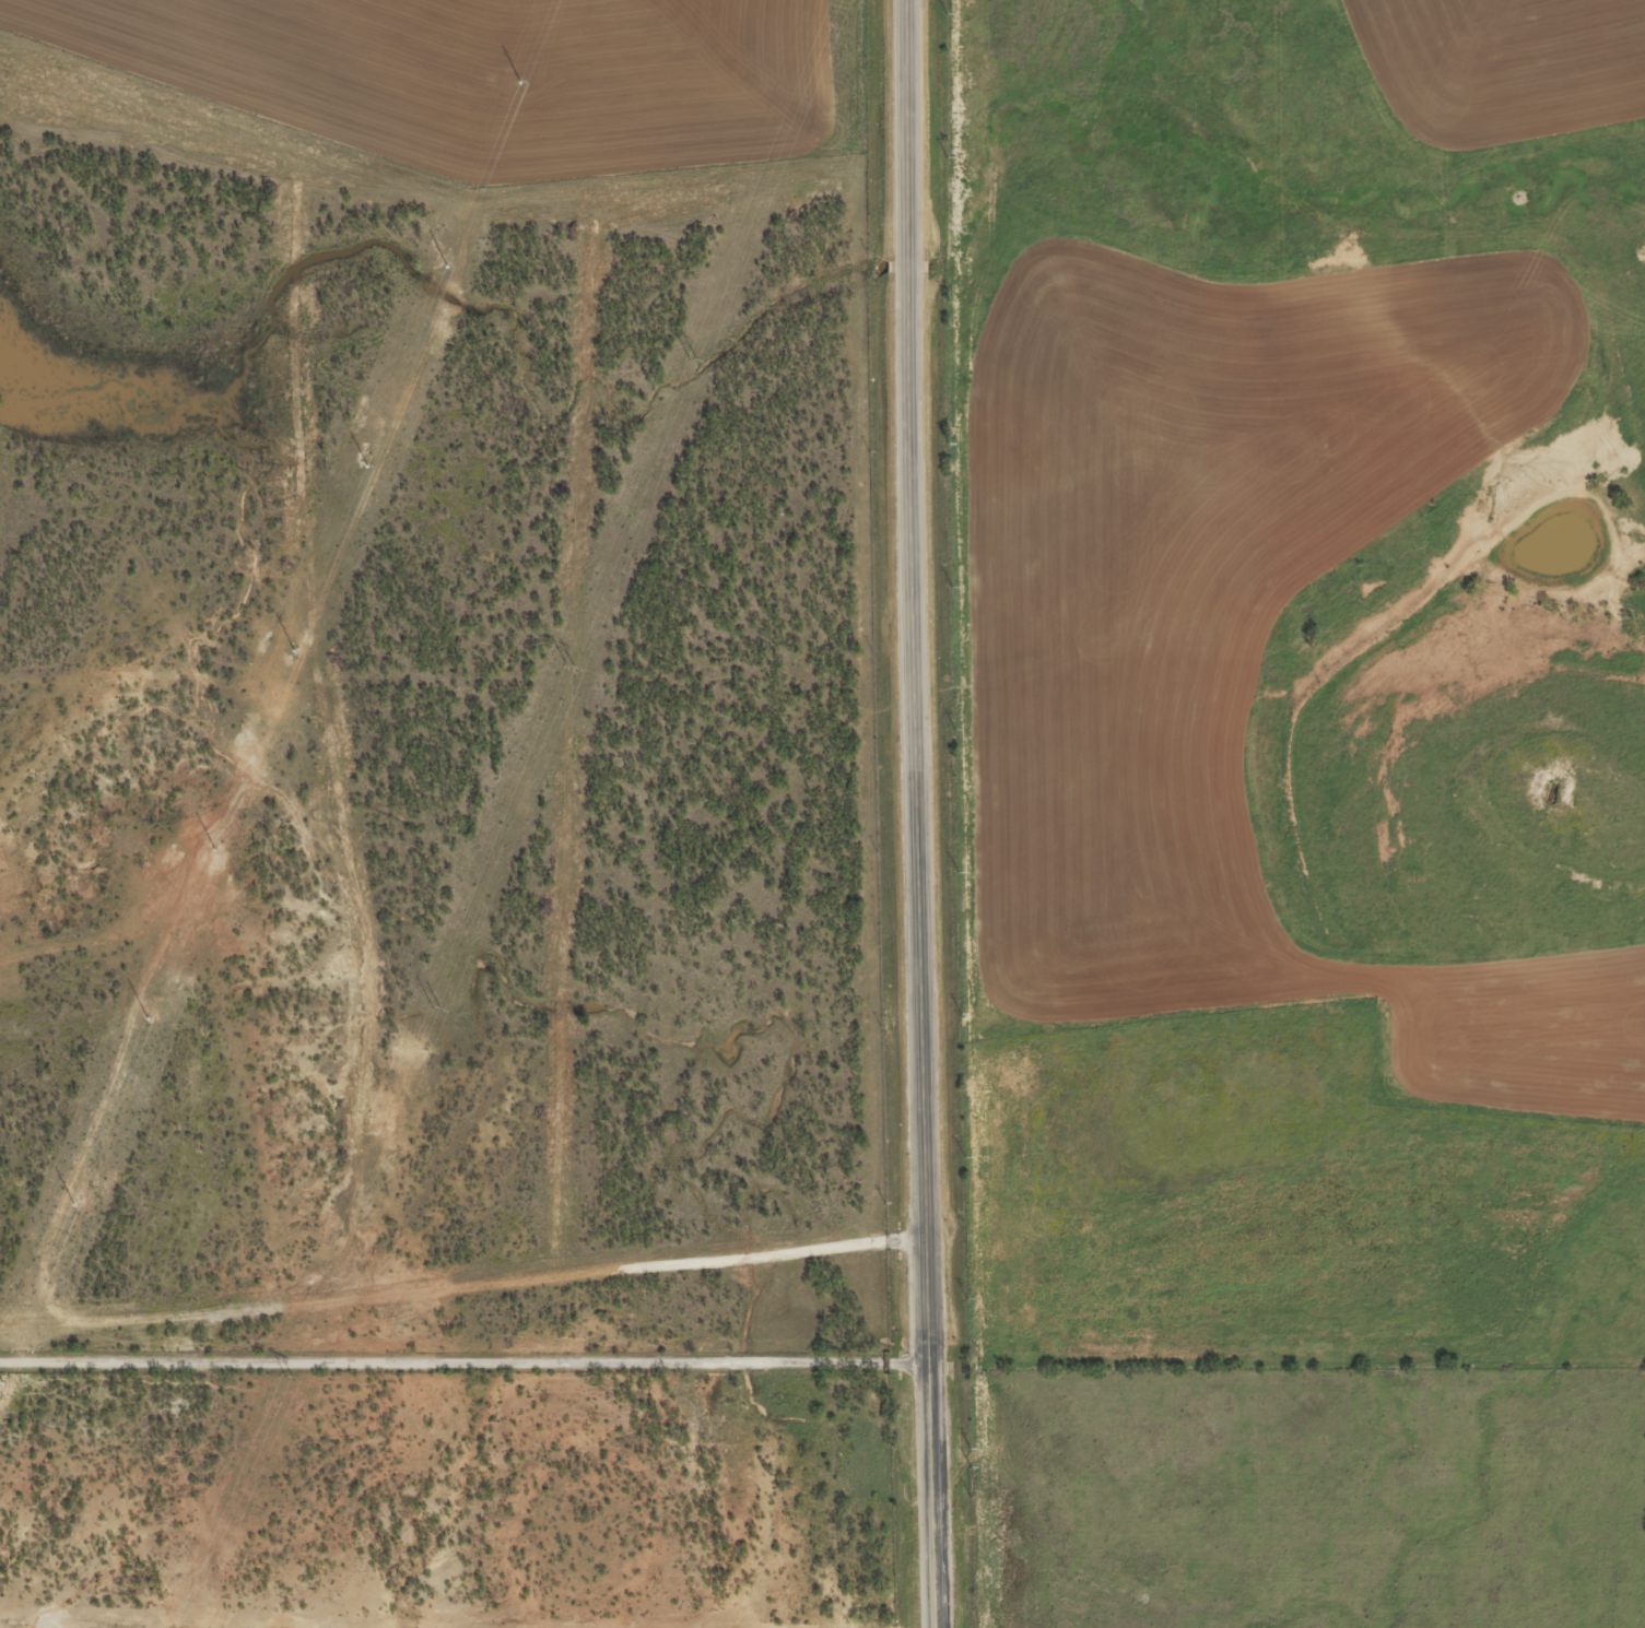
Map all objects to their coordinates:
power tower: (691, 361)
power tower: (569, 669)
road: (916, 814)
power tower: (434, 1010)
road: (463, 1365)
power tower: (287, 1379)

